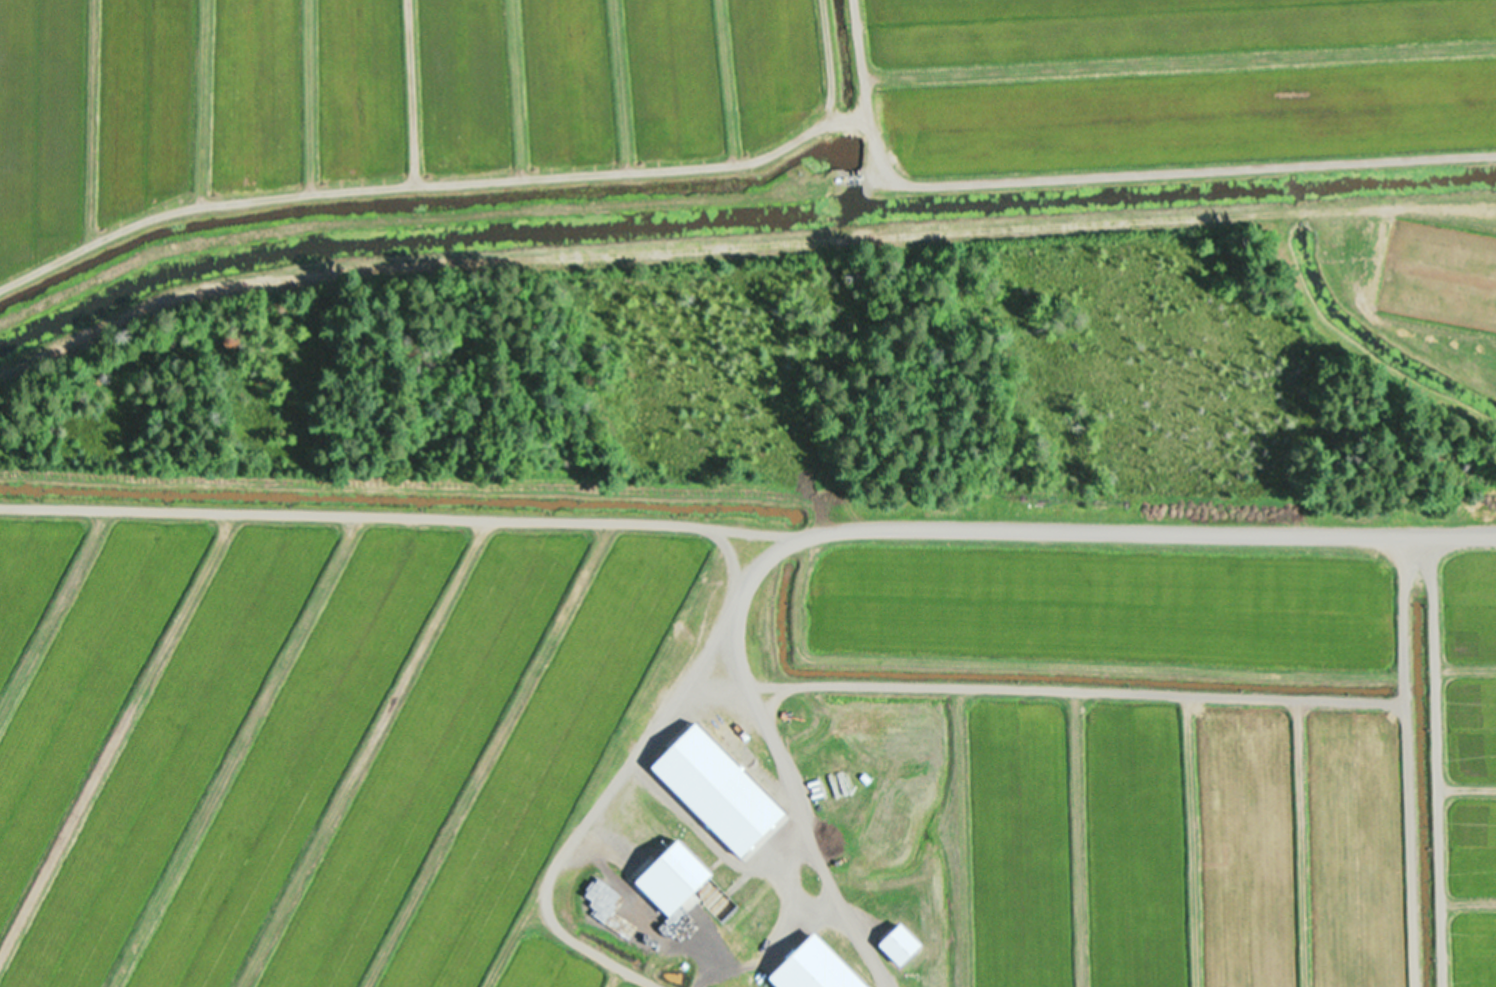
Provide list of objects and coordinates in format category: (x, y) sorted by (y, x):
road: (863, 101)
road: (1345, 206)
road: (1202, 239)
crop: (748, 493)
road: (889, 530)
road: (1430, 761)
building: (718, 784)
road: (330, 820)
building: (682, 868)
road: (274, 901)
building: (898, 944)
building: (813, 968)

